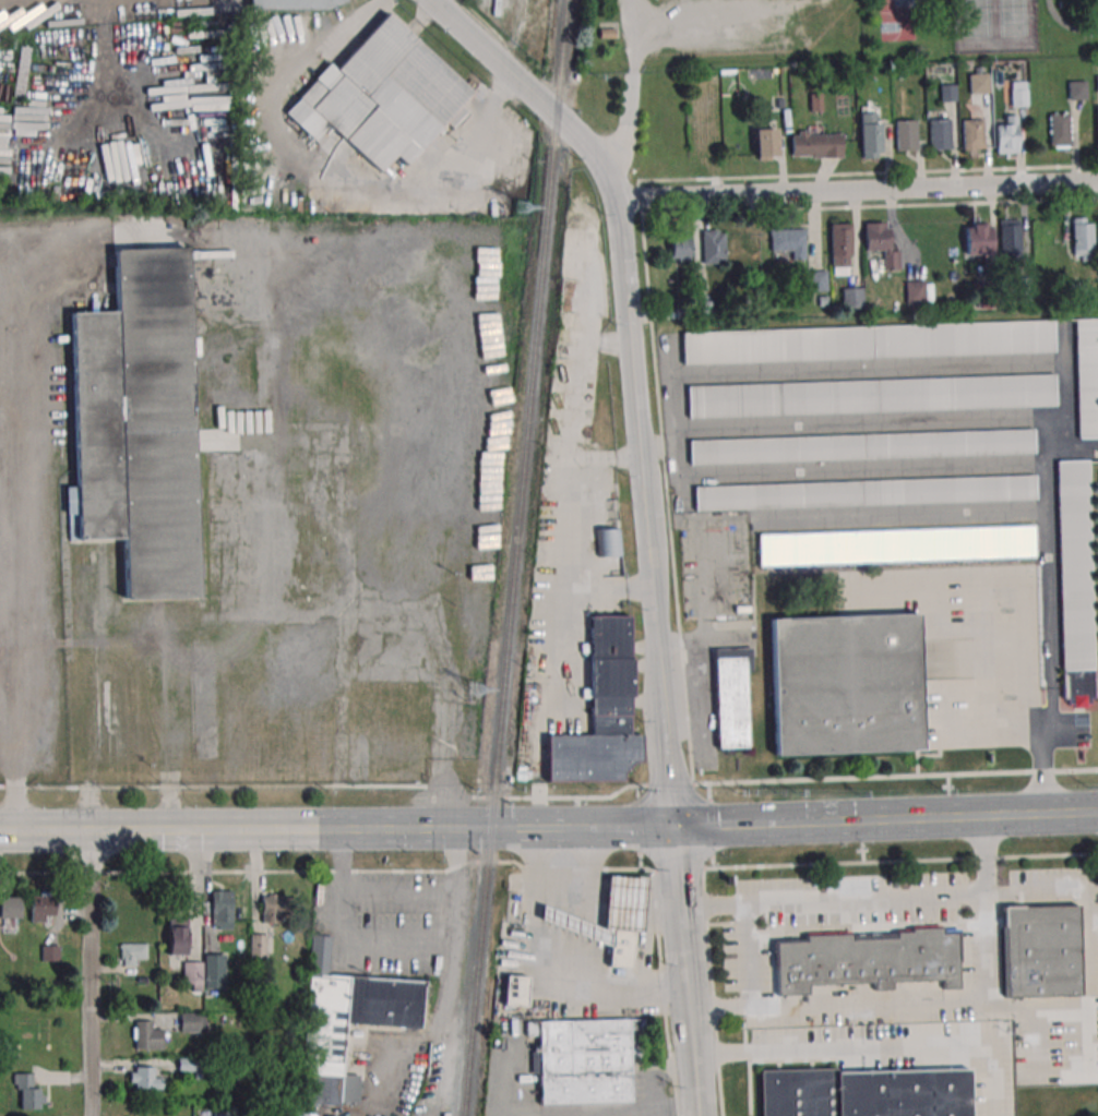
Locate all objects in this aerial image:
building: (295, 3)
park: (897, 20)
road: (1067, 24)
park: (994, 26)
parking lot: (737, 29)
building: (606, 33)
park: (826, 33)
building: (862, 72)
building: (978, 82)
building: (1097, 83)
road: (629, 87)
building: (1076, 88)
road: (532, 92)
building: (947, 92)
building: (1014, 92)
building: (381, 96)
building: (815, 101)
building: (1096, 125)
building: (1059, 130)
building: (940, 133)
building: (971, 133)
building: (869, 134)
building: (1006, 134)
building: (905, 135)
building: (765, 143)
building: (815, 144)
road: (332, 163)
road: (869, 173)
road: (856, 188)
road: (870, 205)
power tower: (520, 207)
building: (1009, 238)
building: (978, 239)
building: (1082, 239)
building: (787, 240)
building: (880, 243)
building: (679, 244)
building: (839, 244)
building: (712, 247)
building: (816, 279)
building: (1022, 286)
building: (1076, 291)
building: (917, 292)
building: (850, 297)
building: (988, 298)
building: (822, 301)
building: (703, 309)
building: (683, 312)
building: (868, 341)
road: (1041, 359)
building: (1087, 375)
building: (870, 395)
building: (136, 422)
road: (860, 429)
building: (862, 445)
road: (605, 459)
road: (861, 466)
road: (665, 481)
building: (866, 492)
road: (641, 512)
road: (900, 519)
building: (608, 542)
railway: (523, 559)
road: (565, 565)
building: (1075, 581)
road: (606, 589)
road: (1022, 665)
building: (845, 684)
power tower: (475, 689)
building: (730, 703)
building: (601, 712)
road: (13, 757)
road: (129, 766)
road: (783, 780)
road: (236, 787)
road: (942, 817)
road: (728, 825)
traffic signals: (397, 827)
road: (538, 827)
road: (562, 827)
road: (628, 827)
traffic signals: (671, 827)
road: (267, 828)
road: (196, 892)
road: (599, 895)
road: (873, 900)
building: (10, 907)
building: (41, 907)
road: (679, 908)
building: (220, 909)
building: (271, 909)
building: (608, 909)
building: (177, 936)
road: (646, 939)
road: (394, 944)
building: (258, 945)
building: (622, 948)
building: (1041, 950)
building: (49, 953)
building: (133, 953)
road: (750, 956)
building: (870, 960)
building: (214, 970)
road: (89, 973)
building: (192, 975)
road: (533, 983)
building: (514, 989)
road: (934, 999)
building: (192, 1021)
building: (347, 1021)
building: (146, 1034)
road: (873, 1049)
road: (691, 1053)
building: (587, 1058)
building: (188, 1065)
building: (148, 1078)
building: (28, 1091)
building: (863, 1093)
building: (220, 1111)
road: (604, 1111)

